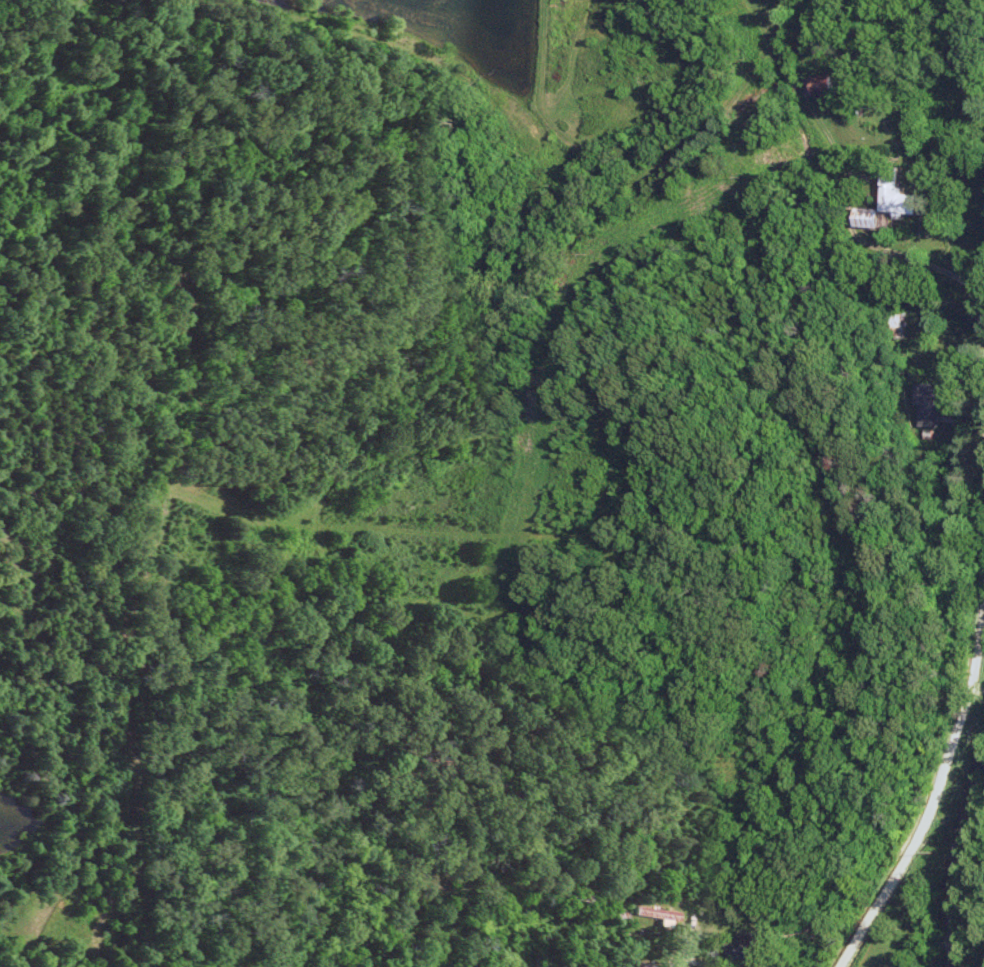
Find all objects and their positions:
building: (820, 85)
building: (894, 194)
building: (891, 322)
building: (928, 403)
road: (934, 797)
river: (955, 859)
road: (691, 937)
building: (748, 951)

